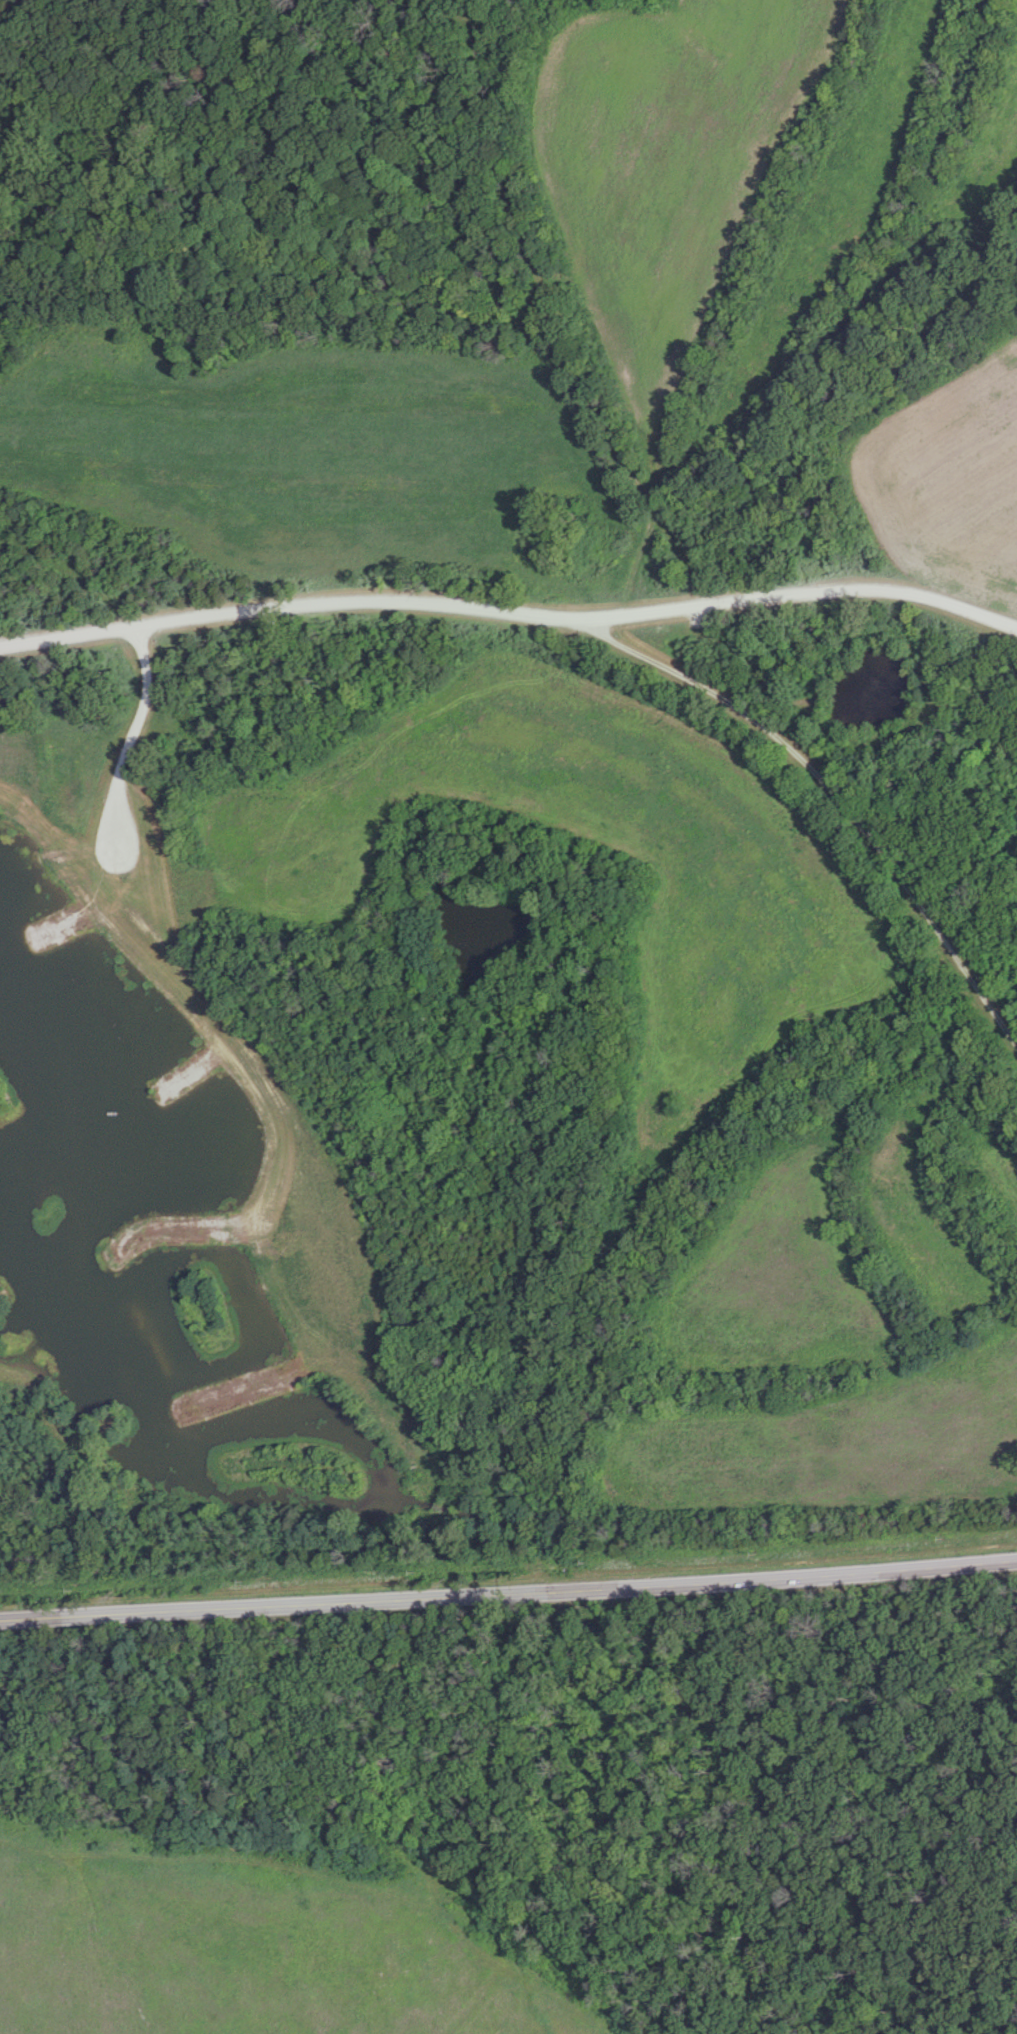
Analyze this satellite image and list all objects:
road: (800, 596)
road: (288, 607)
road: (131, 739)
road: (834, 795)
dam: (23, 804)
parking lot: (117, 852)
road: (508, 1592)
park: (264, 1936)

